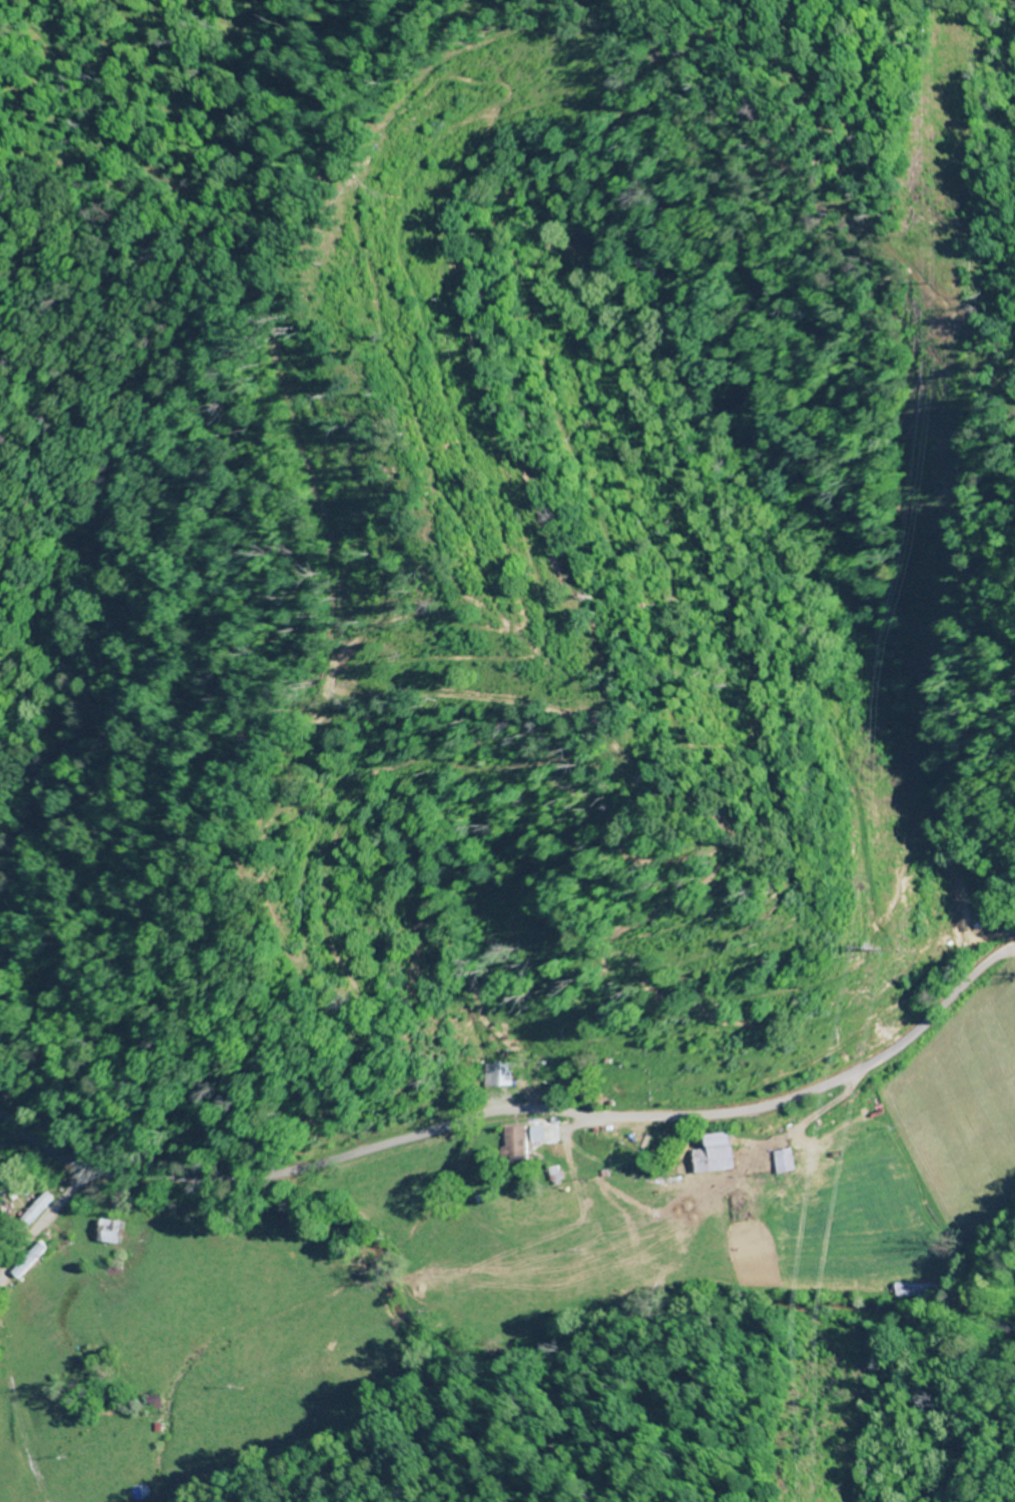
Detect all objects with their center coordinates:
building: (505, 1076)
road: (517, 1110)
building: (523, 1143)
building: (727, 1154)
building: (561, 1175)
road: (42, 1230)
building: (119, 1233)
building: (35, 1259)
building: (918, 1291)

